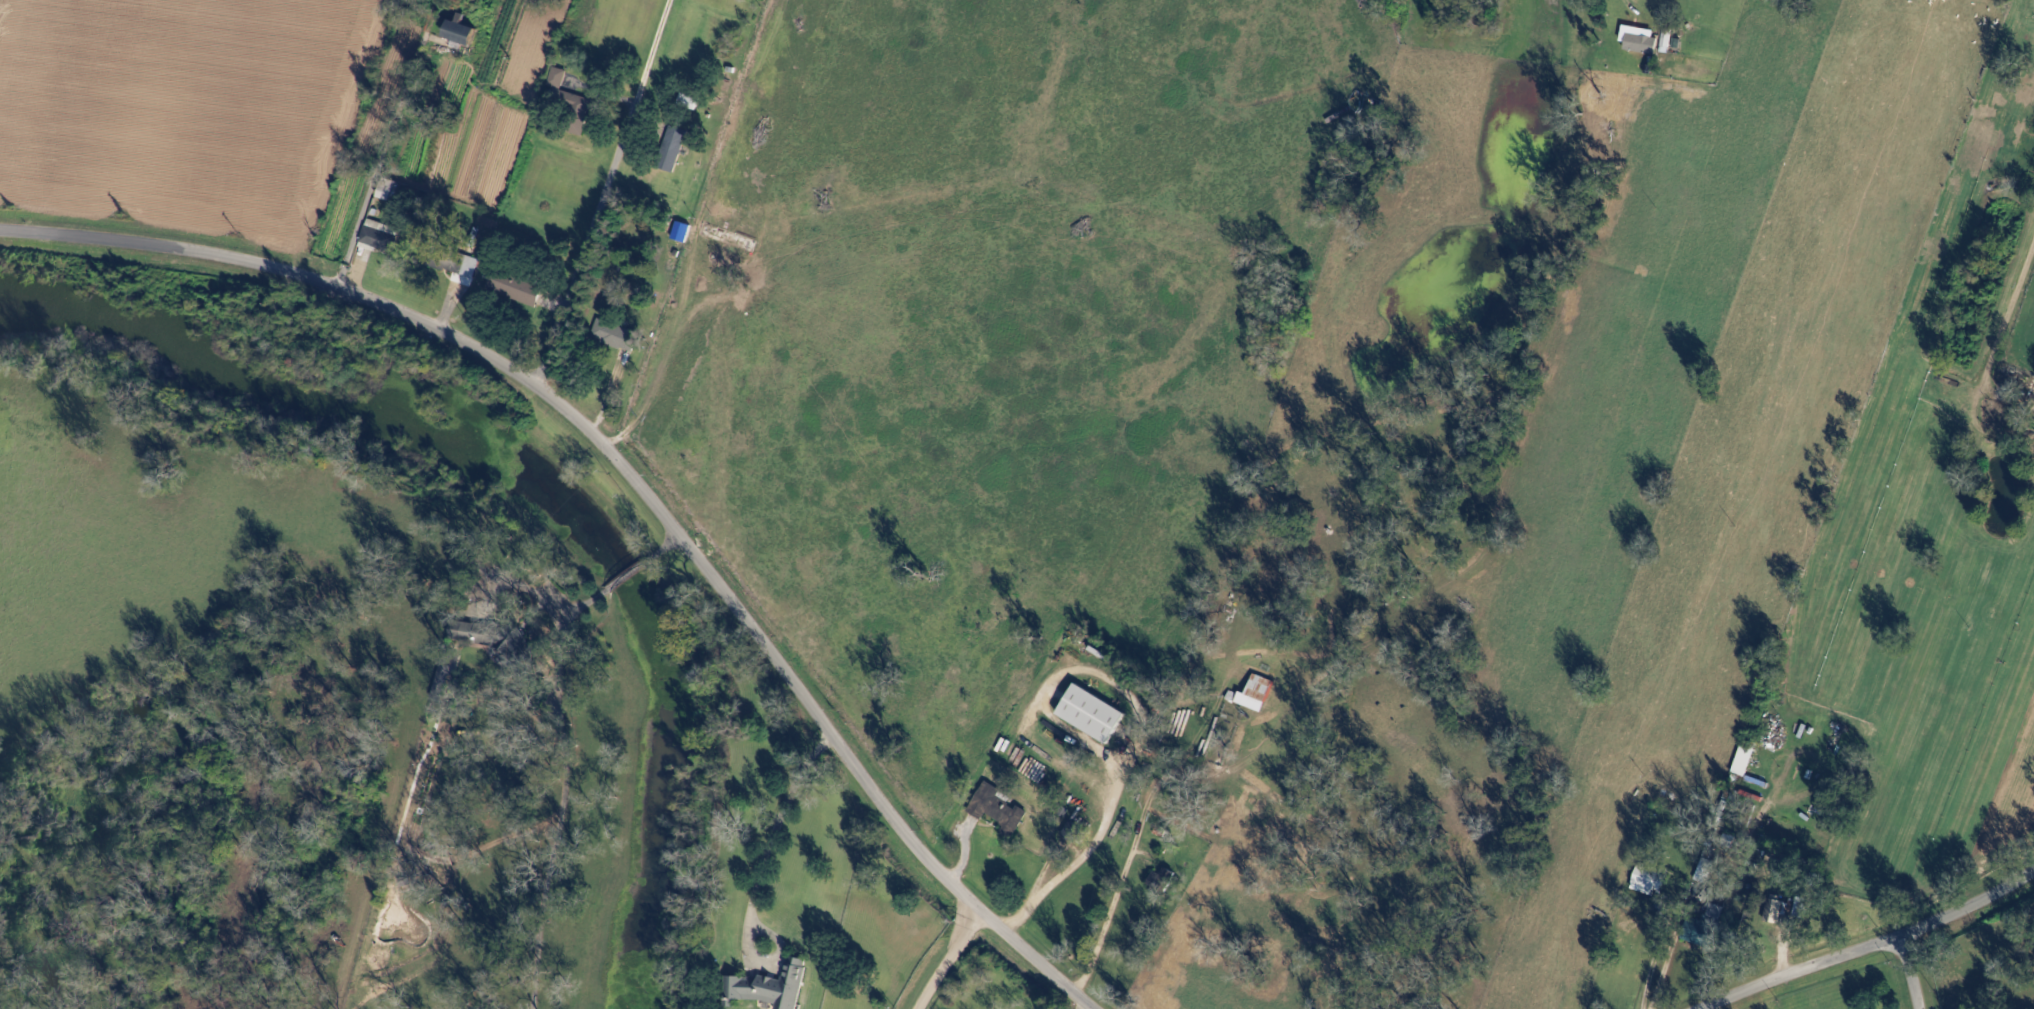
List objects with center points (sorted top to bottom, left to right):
building: (460, 33)
building: (1640, 40)
building: (689, 102)
building: (572, 104)
building: (672, 149)
road: (378, 162)
building: (388, 190)
road: (605, 193)
building: (381, 237)
building: (455, 264)
building: (515, 290)
building: (615, 337)
road: (633, 480)
road: (665, 544)
road: (625, 573)
building: (445, 675)
building: (1257, 693)
building: (1092, 714)
road: (1136, 724)
building: (1744, 762)
road: (562, 793)
building: (998, 810)
road: (757, 881)
building: (1648, 882)
building: (1716, 913)
road: (1109, 928)
road: (1871, 944)
road: (947, 958)
road: (1909, 971)
building: (771, 987)

